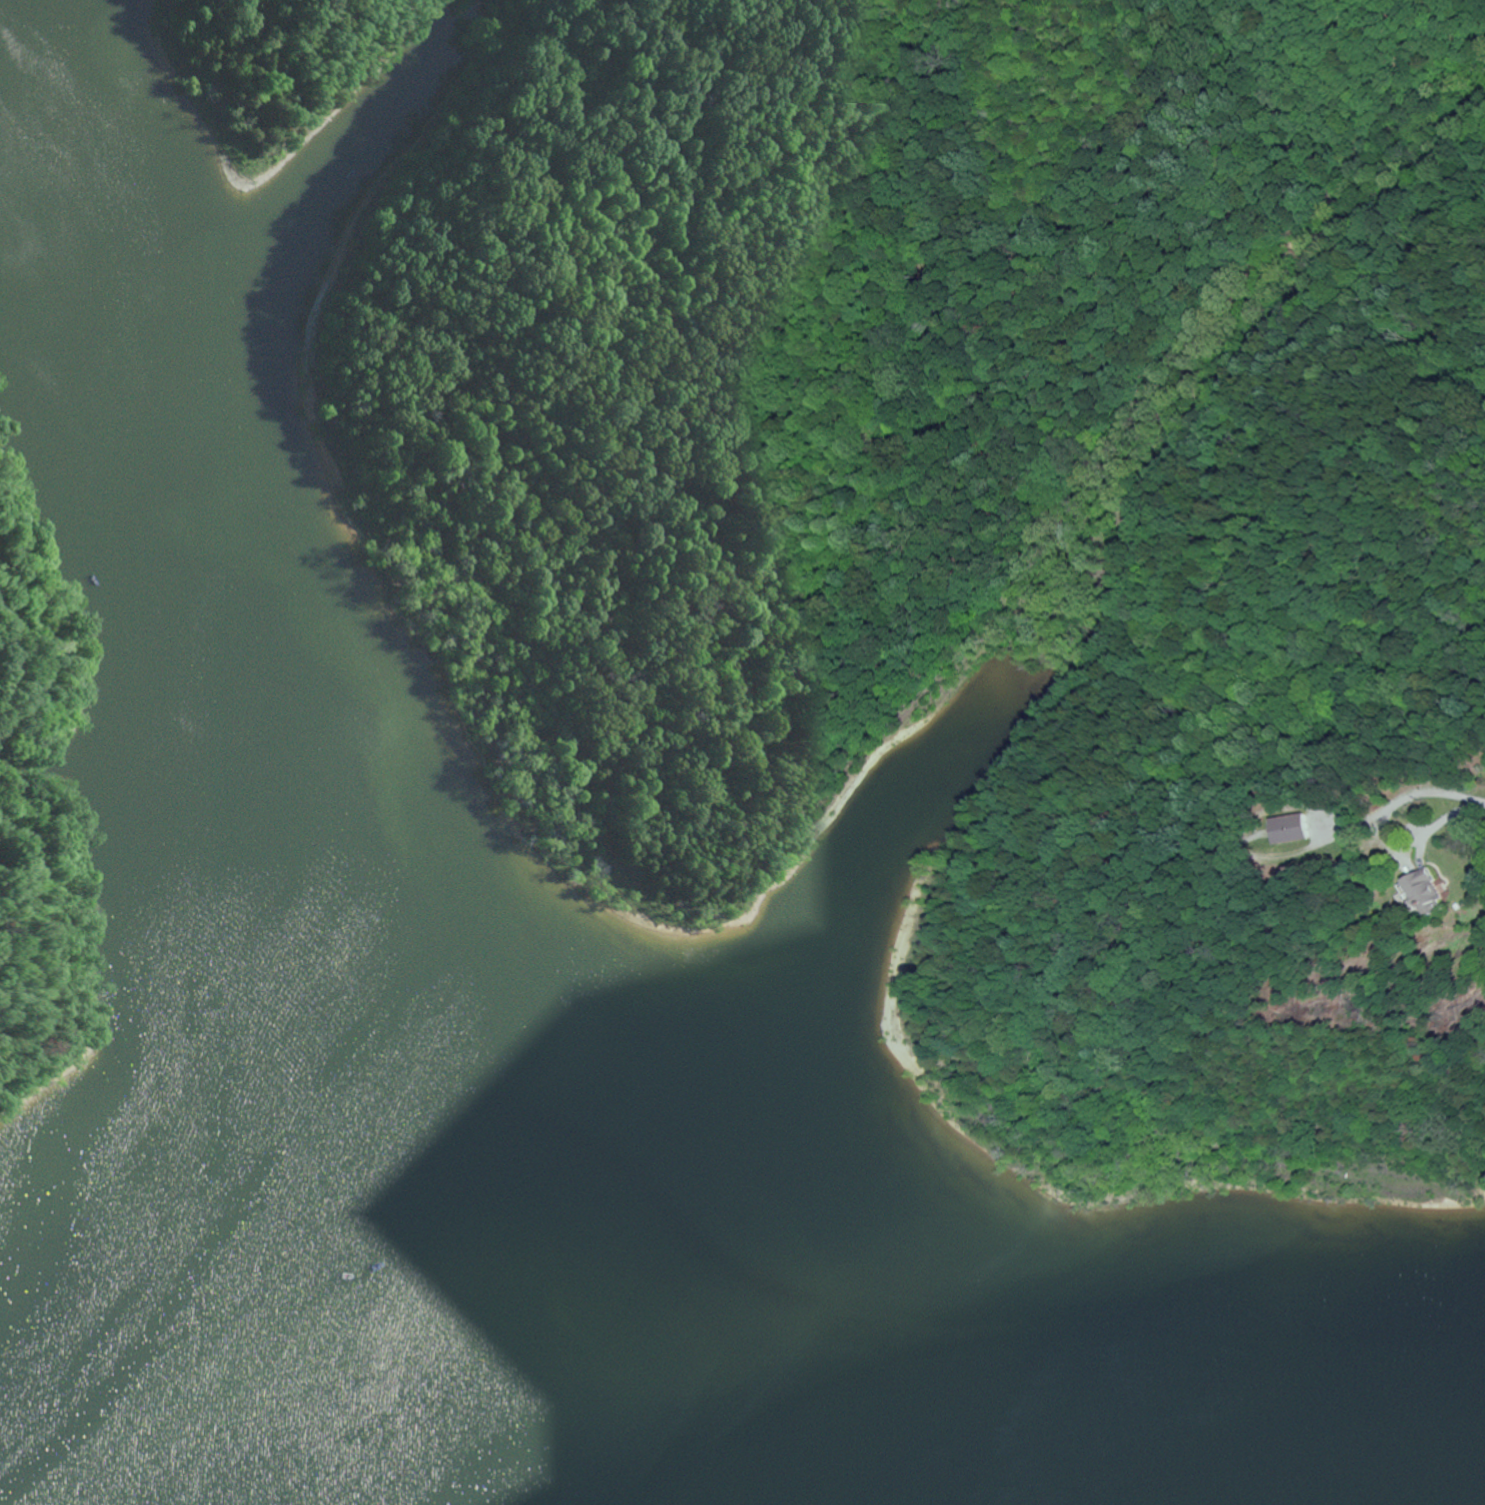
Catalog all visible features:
road: (1442, 821)
building: (1298, 829)
building: (1431, 893)

